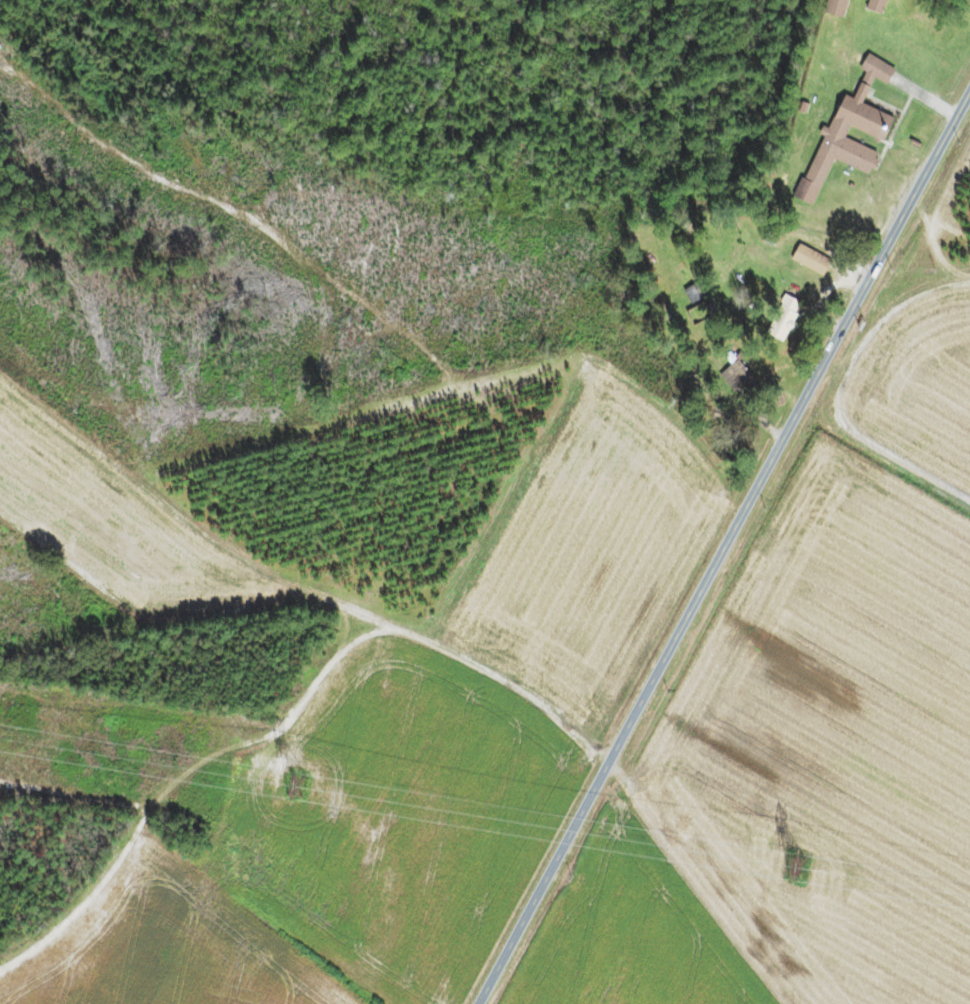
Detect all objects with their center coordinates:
building: (872, 6)
building: (832, 7)
building: (871, 133)
building: (805, 261)
building: (779, 317)
building: (730, 375)
road: (723, 547)
road: (403, 631)
power tower: (291, 785)
power tower: (794, 865)

